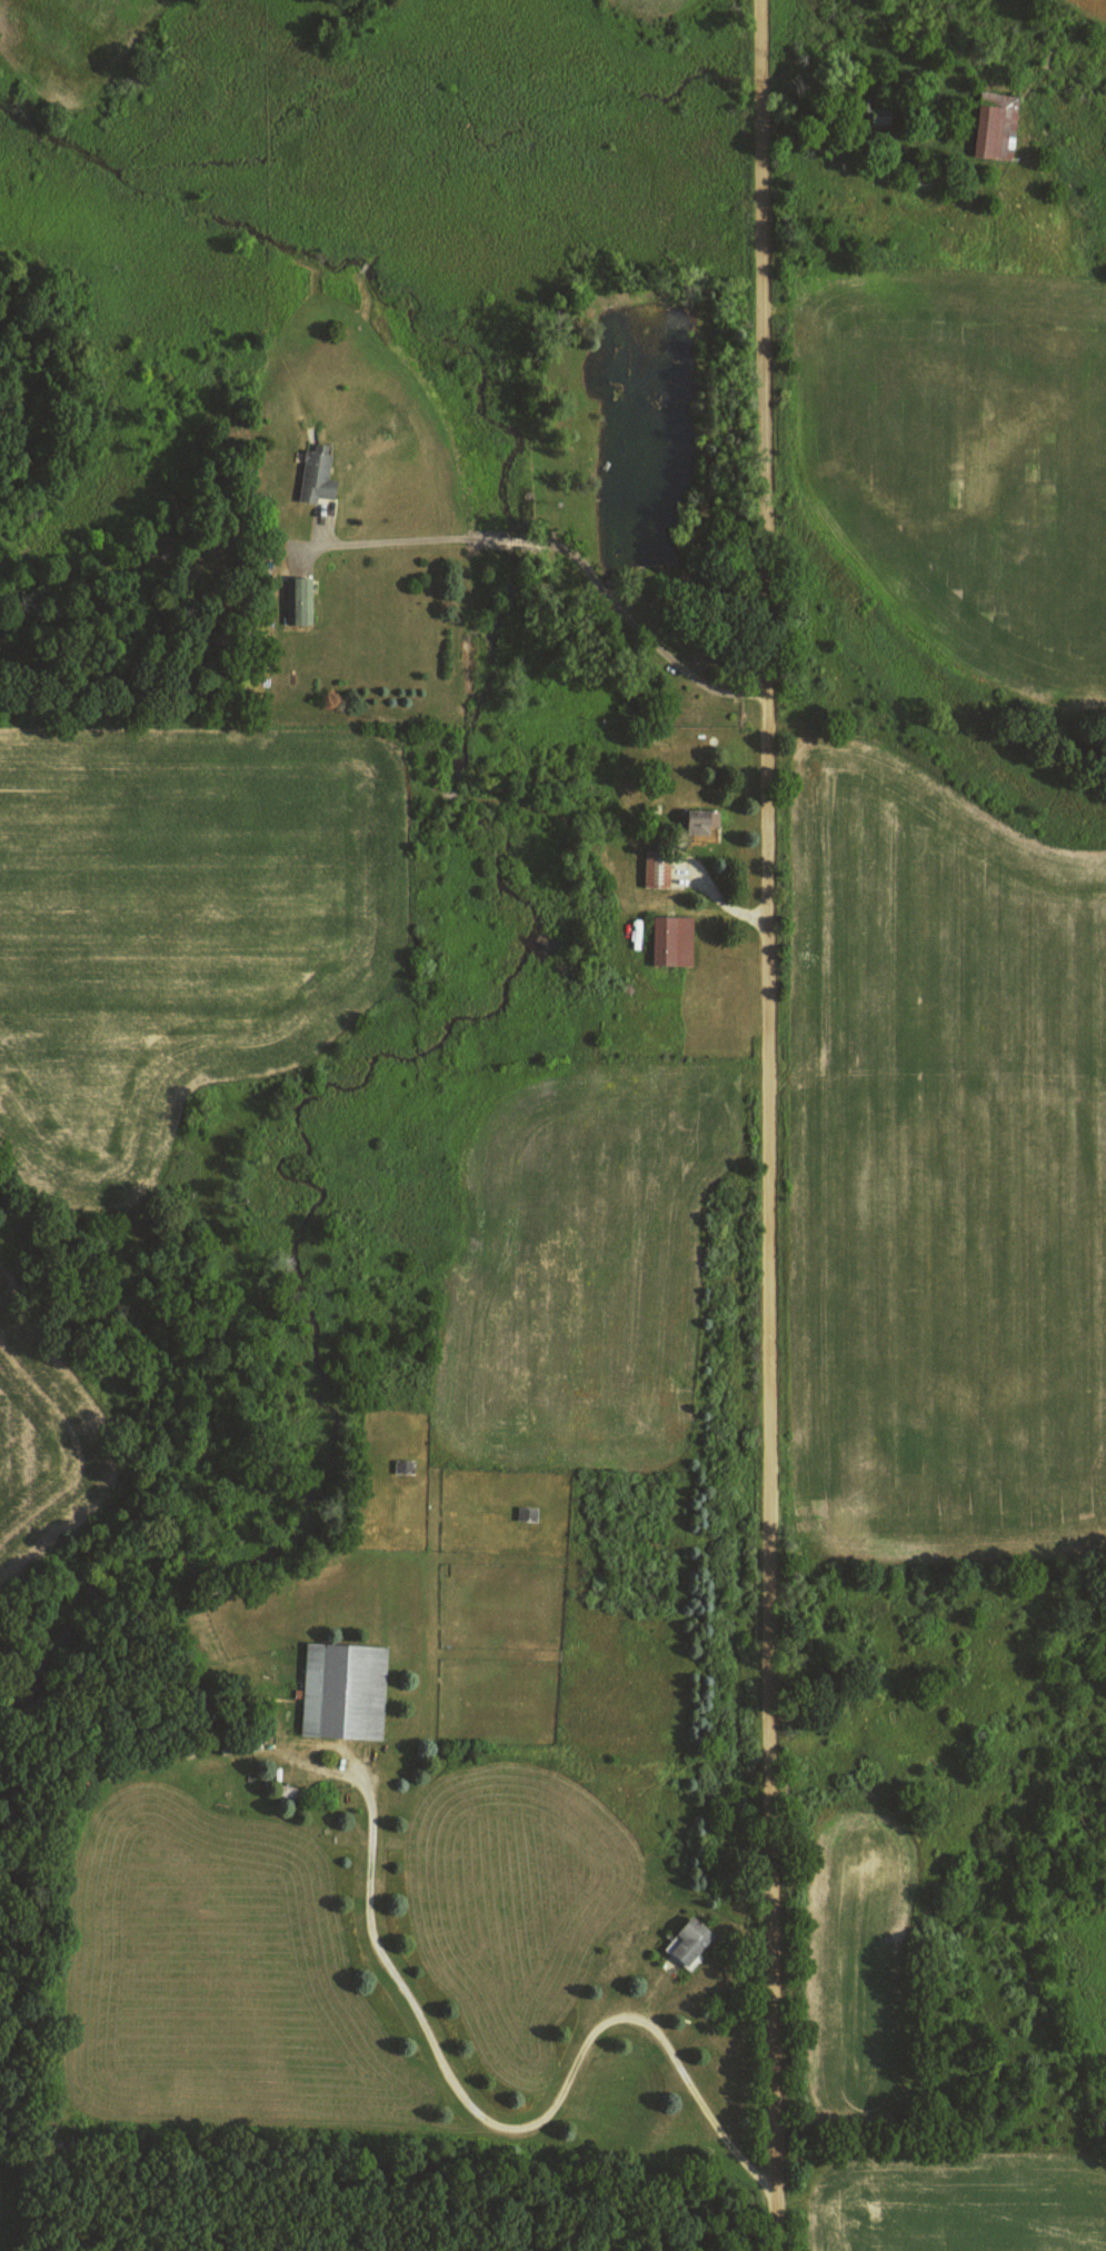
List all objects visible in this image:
building: (996, 124)
building: (317, 475)
building: (300, 600)
building: (704, 819)
building: (657, 868)
building: (674, 939)
road: (767, 1125)
building: (345, 1690)
building: (690, 1940)

